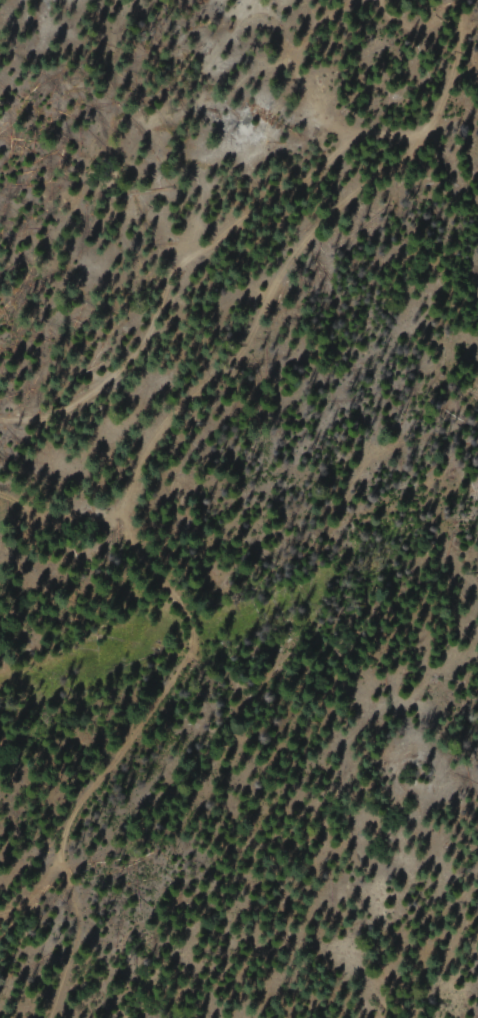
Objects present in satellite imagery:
road: (205, 523)

